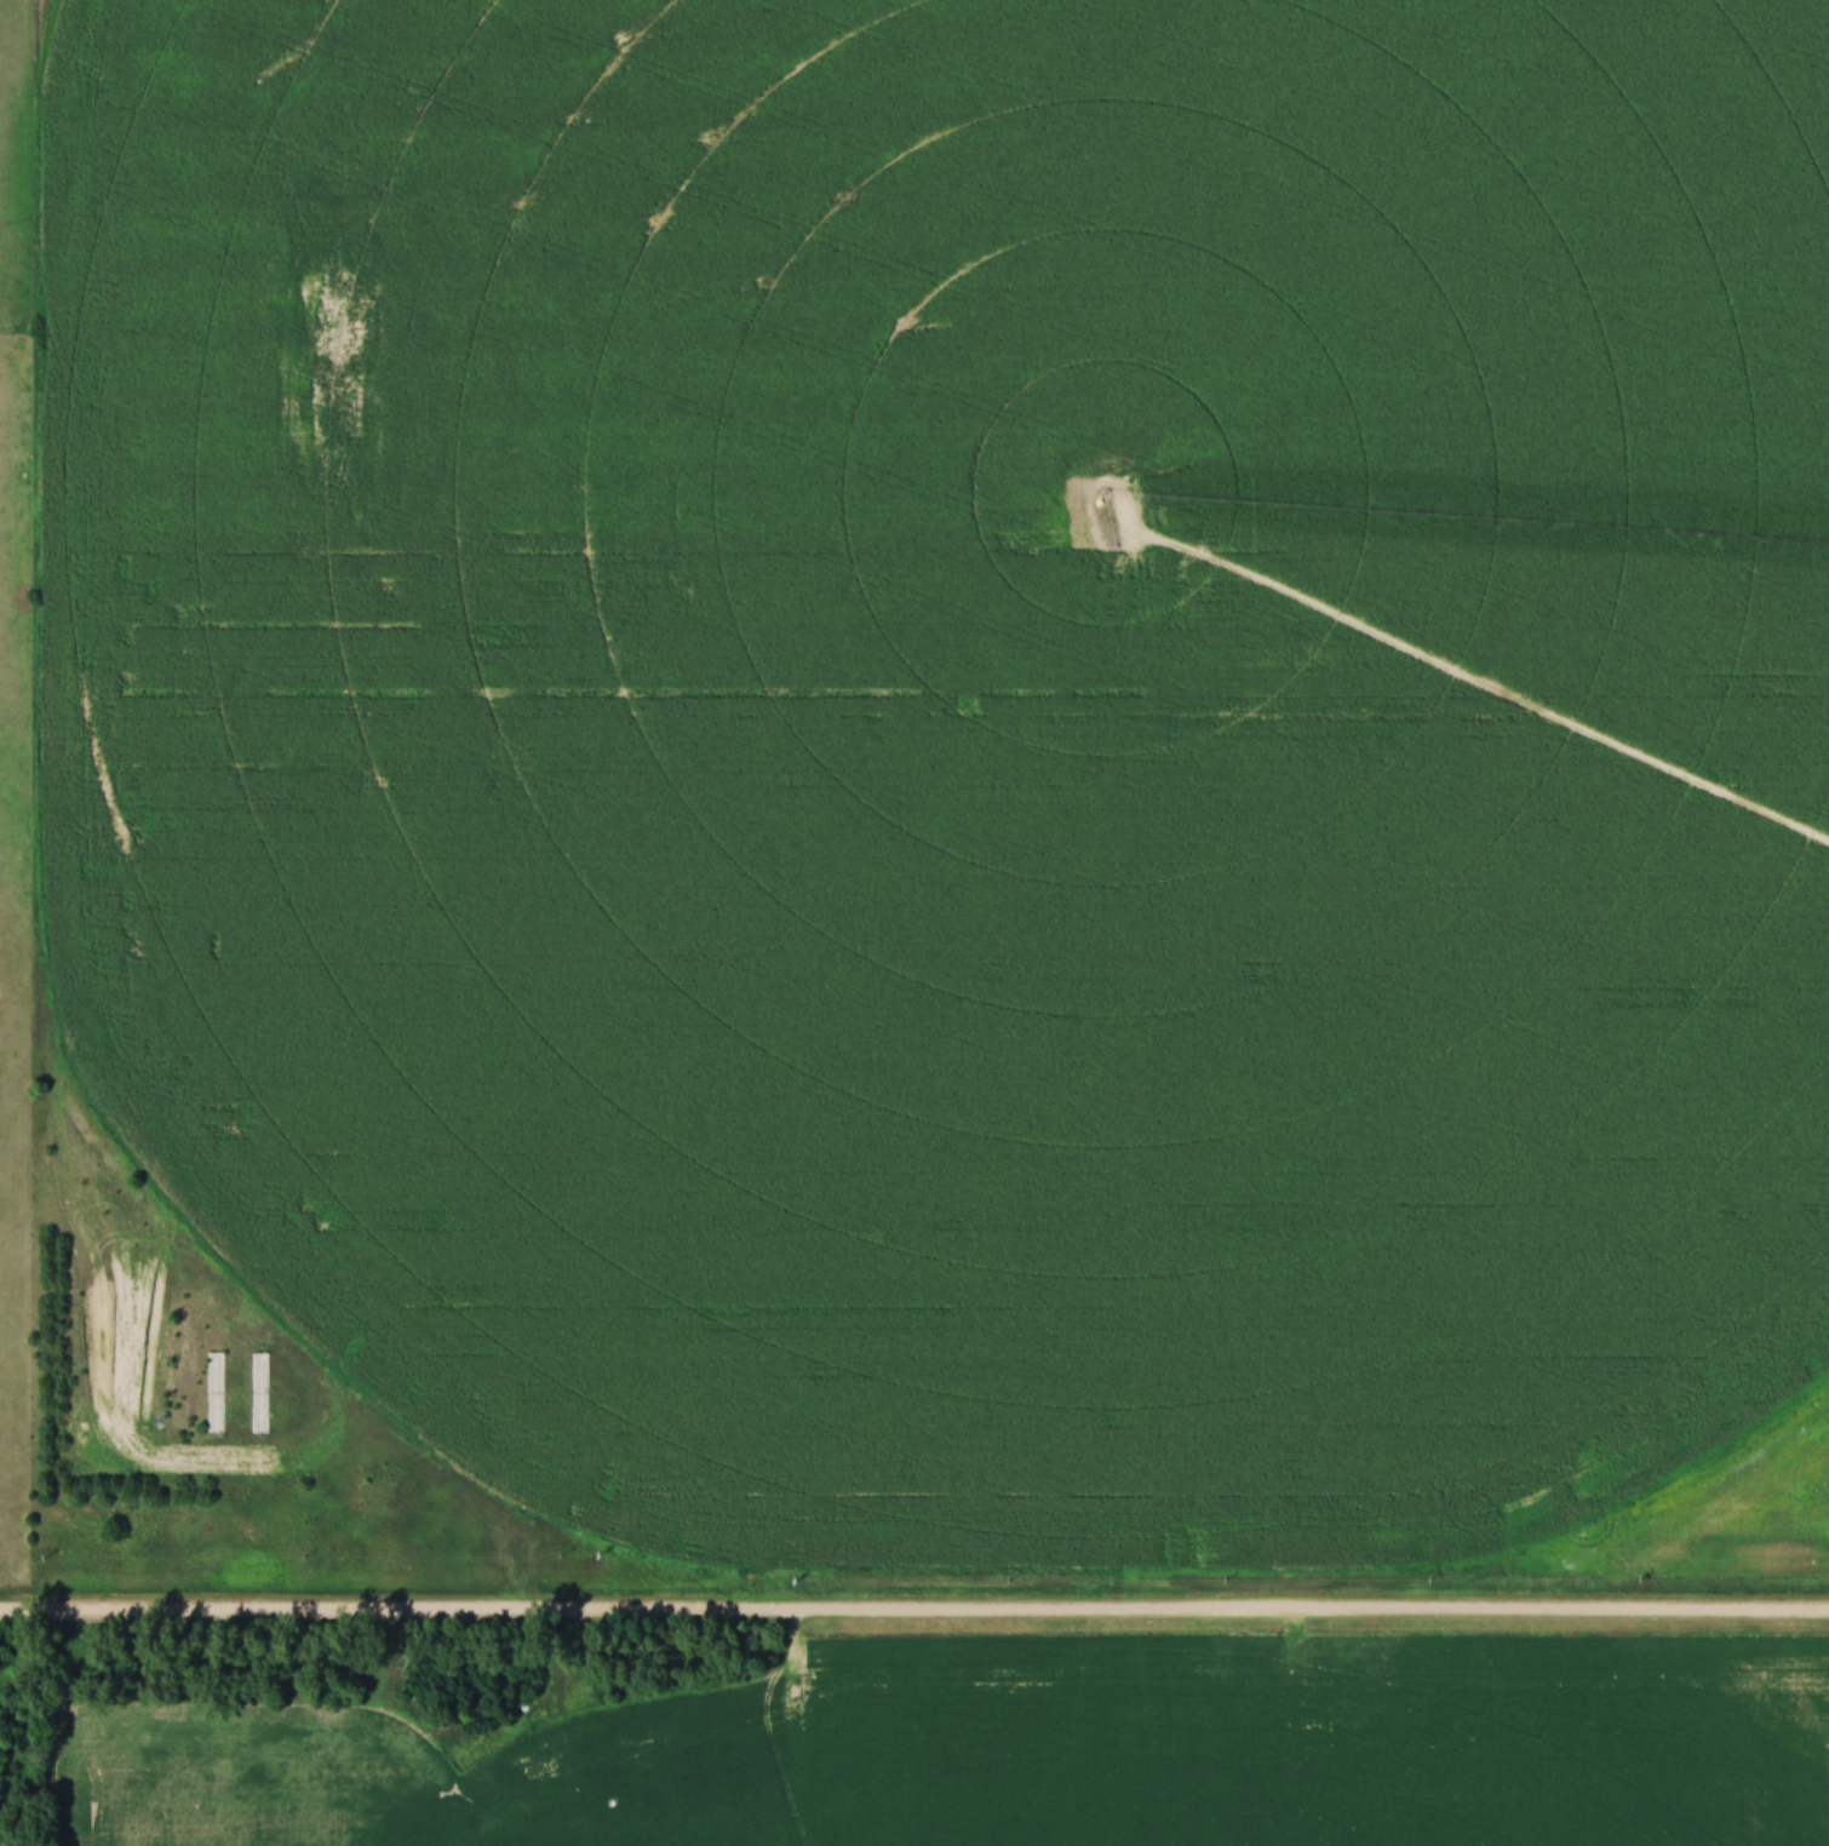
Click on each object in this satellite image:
building: (213, 1393)
building: (259, 1394)
road: (914, 1618)

